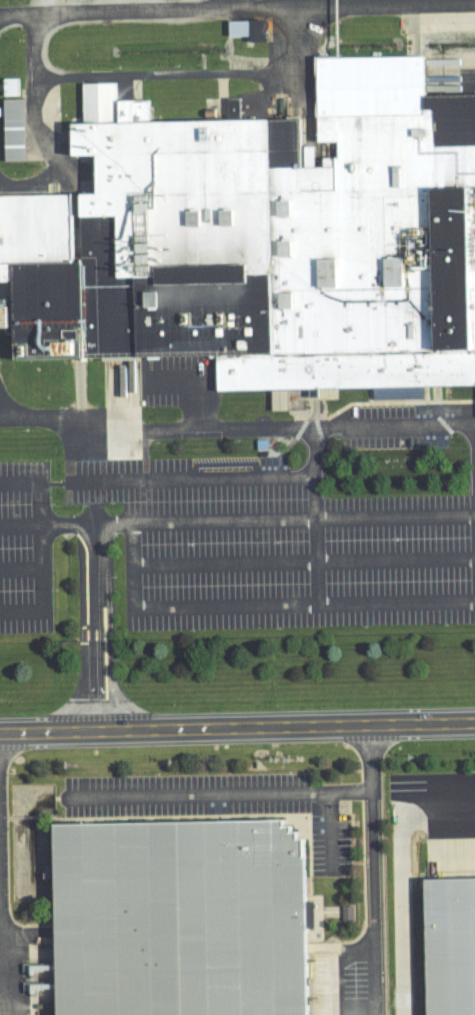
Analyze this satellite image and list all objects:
road: (367, 3)
road: (184, 8)
building: (245, 28)
road: (137, 74)
building: (10, 118)
road: (48, 148)
building: (266, 241)
road: (56, 421)
road: (471, 424)
road: (385, 427)
road: (217, 428)
road: (141, 430)
road: (287, 476)
road: (266, 519)
road: (20, 524)
road: (68, 524)
road: (40, 548)
road: (304, 562)
road: (92, 566)
road: (20, 570)
road: (241, 607)
road: (96, 662)
road: (237, 727)
road: (370, 780)
road: (198, 795)
road: (436, 809)
road: (330, 833)
road: (372, 866)
building: (173, 918)
road: (402, 918)
building: (446, 946)
road: (358, 949)
road: (374, 977)
road: (336, 985)
road: (0, 1005)

